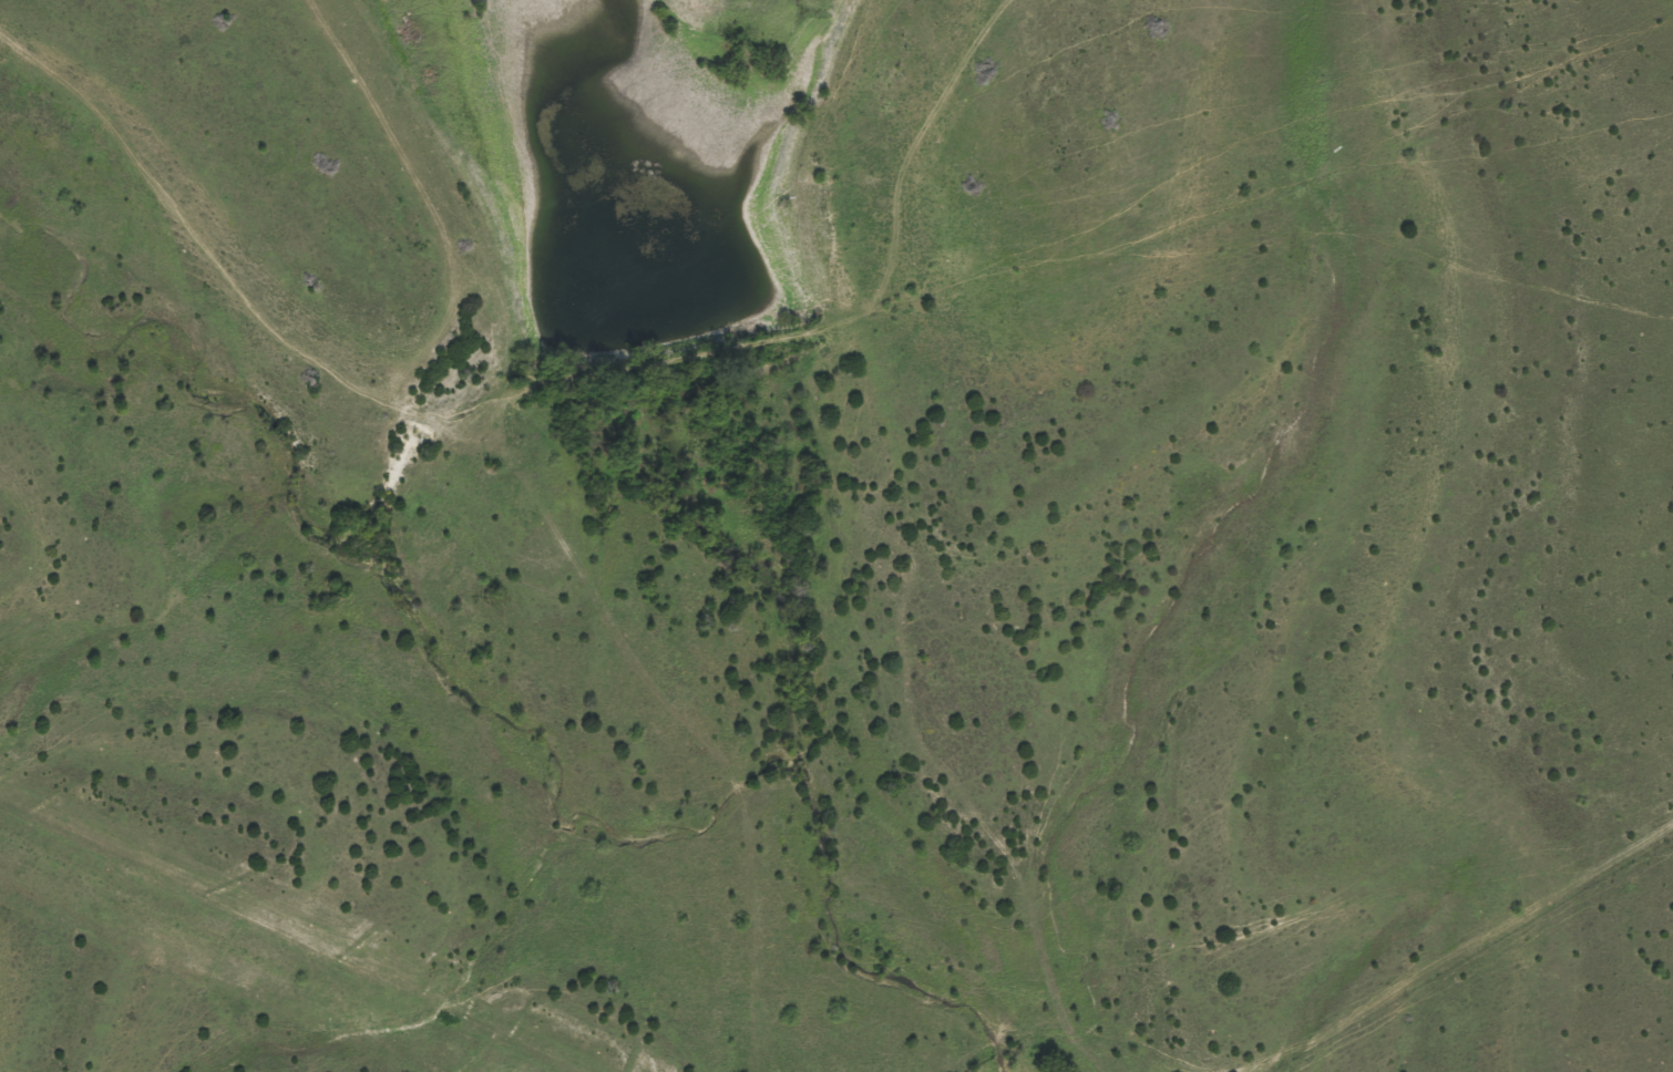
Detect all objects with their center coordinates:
road: (913, 137)

